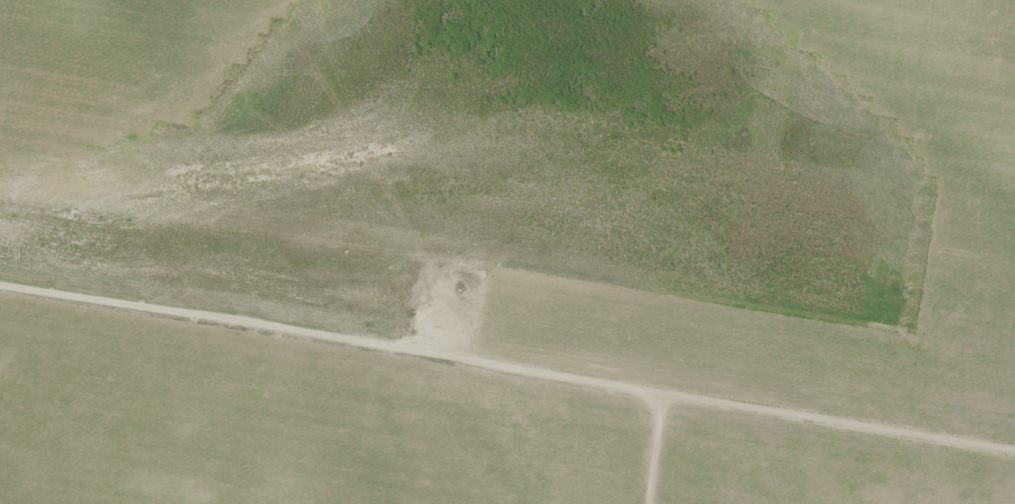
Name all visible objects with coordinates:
road: (507, 365)

